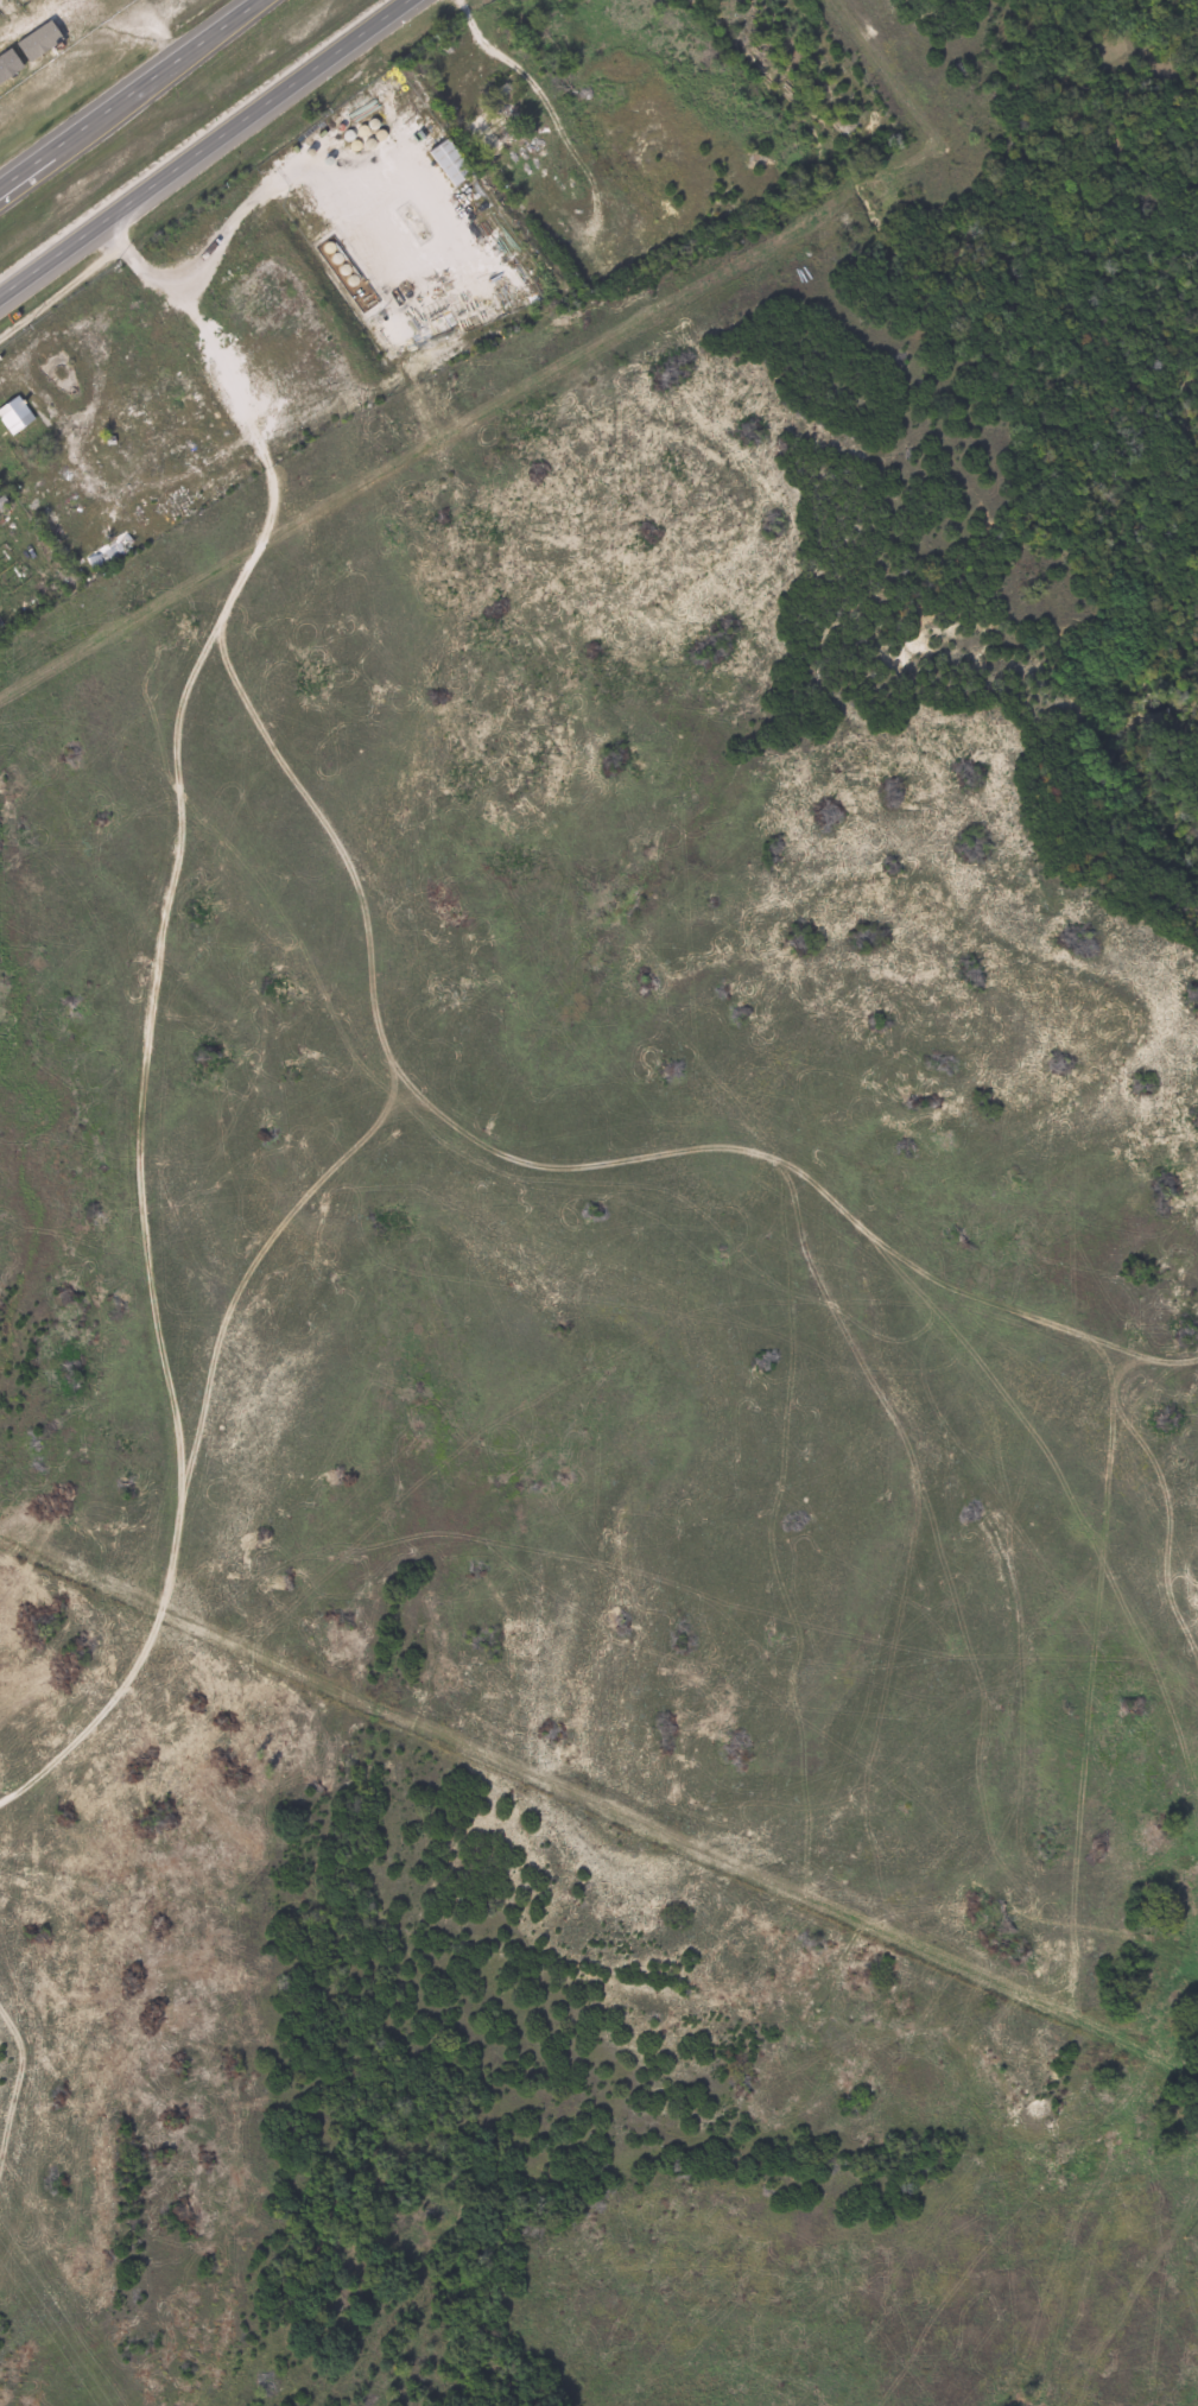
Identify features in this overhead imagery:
building: (27, 2)
road: (57, 12)
building: (27, 50)
road: (132, 94)
road: (205, 150)
road: (400, 157)
building: (456, 164)
building: (18, 416)
building: (112, 550)
road: (146, 1057)

